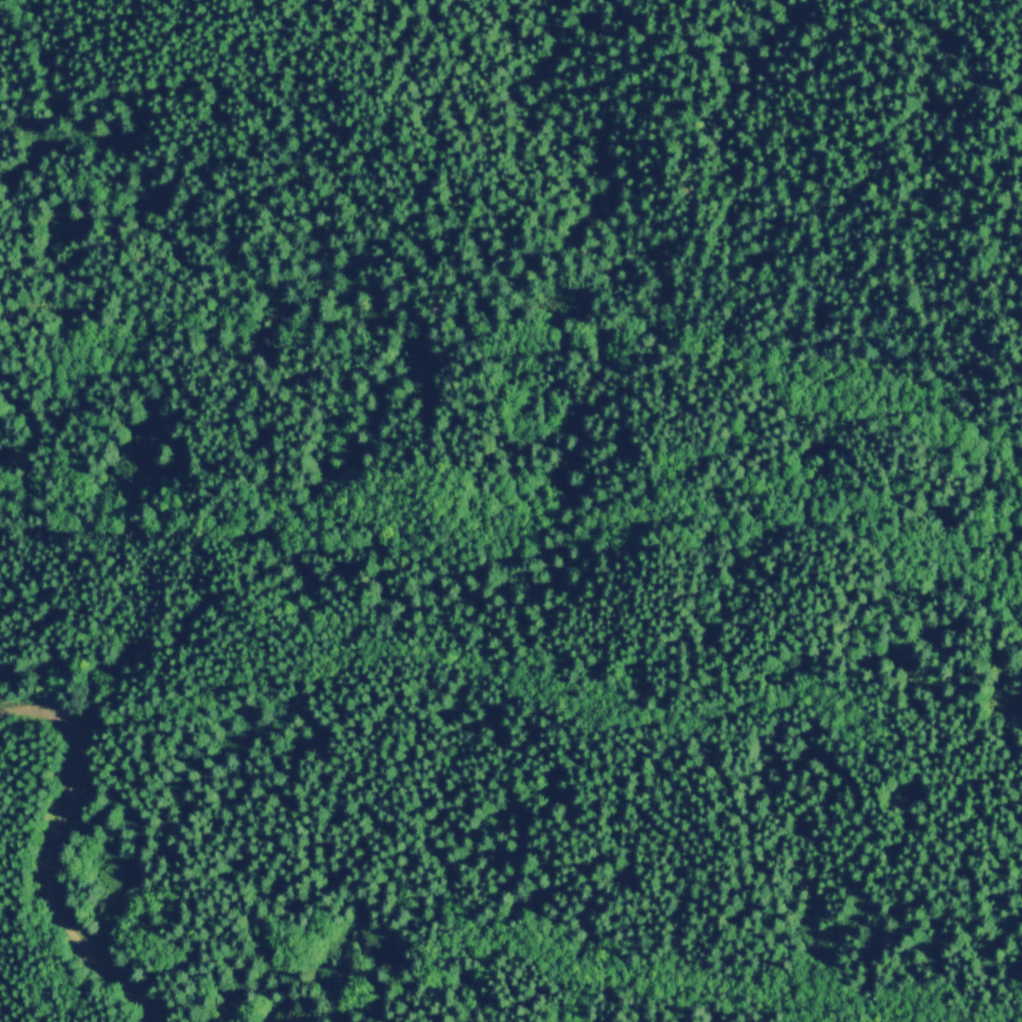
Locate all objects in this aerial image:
road: (516, 472)
road: (50, 854)

